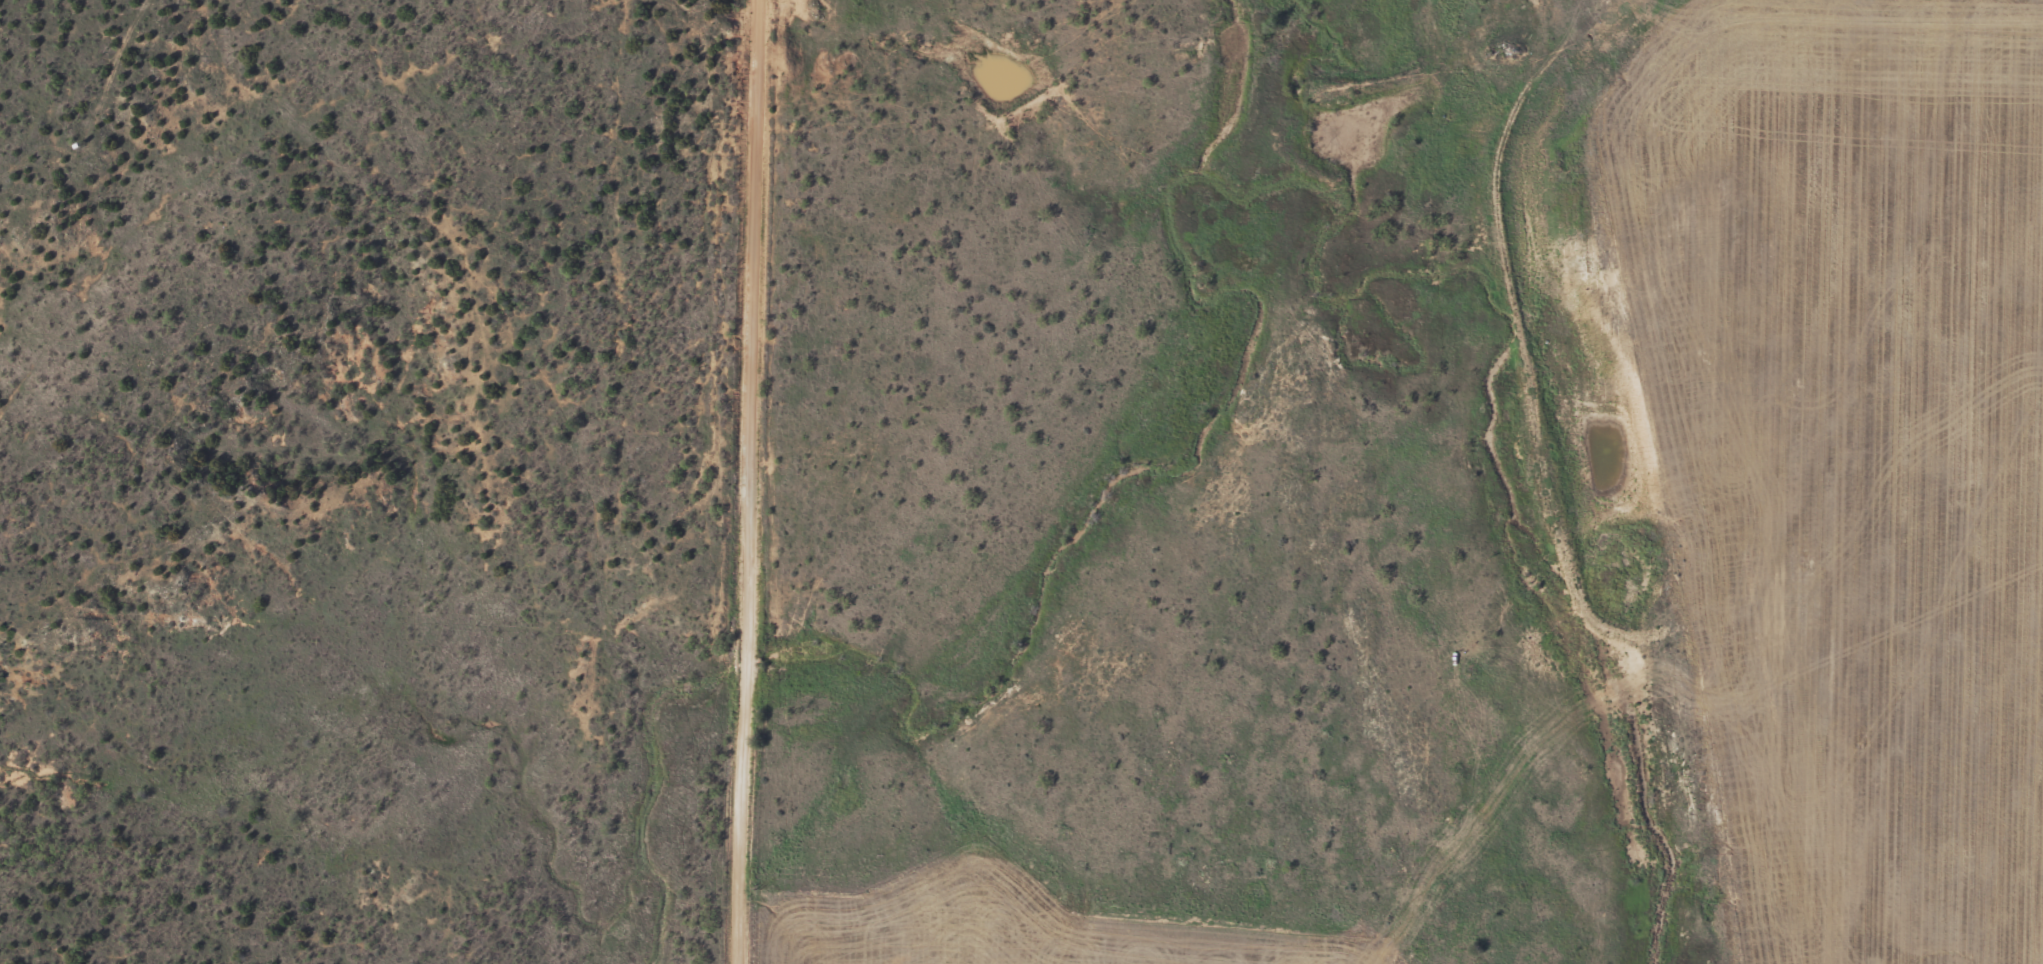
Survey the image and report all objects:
road: (750, 482)

